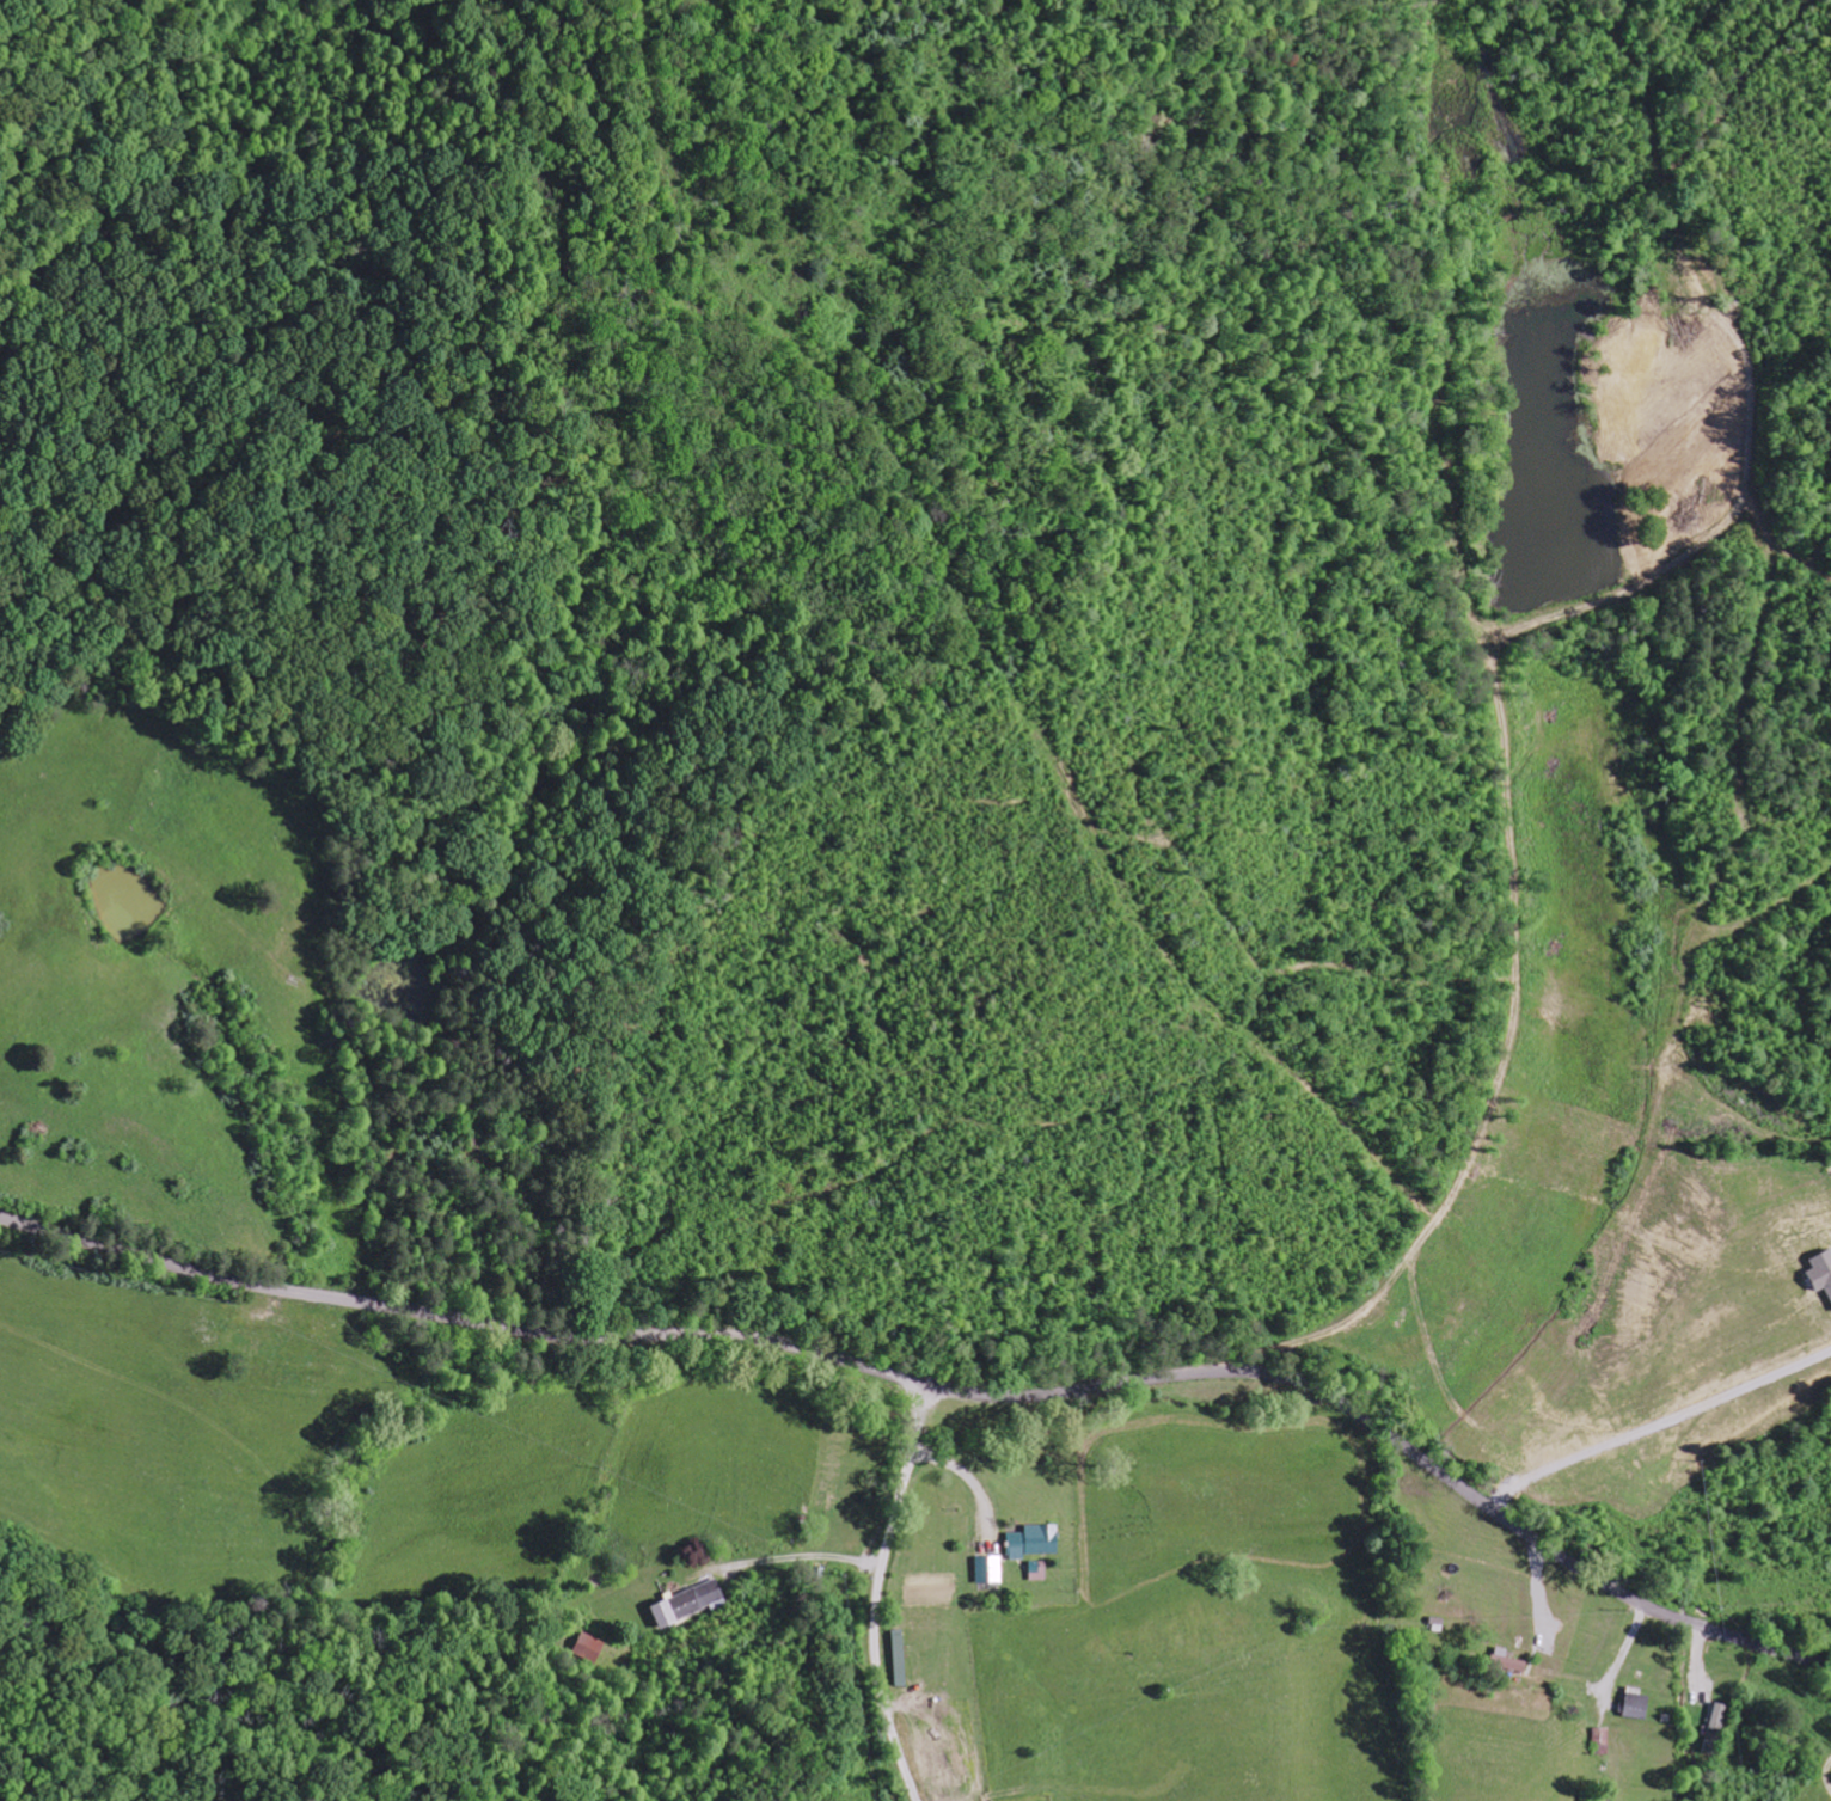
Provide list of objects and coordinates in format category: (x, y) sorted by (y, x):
road: (1515, 947)
building: (1821, 1272)
road: (944, 1387)
building: (1035, 1542)
building: (990, 1570)
road: (880, 1593)
building: (688, 1603)
building: (590, 1648)
building: (1637, 1703)

